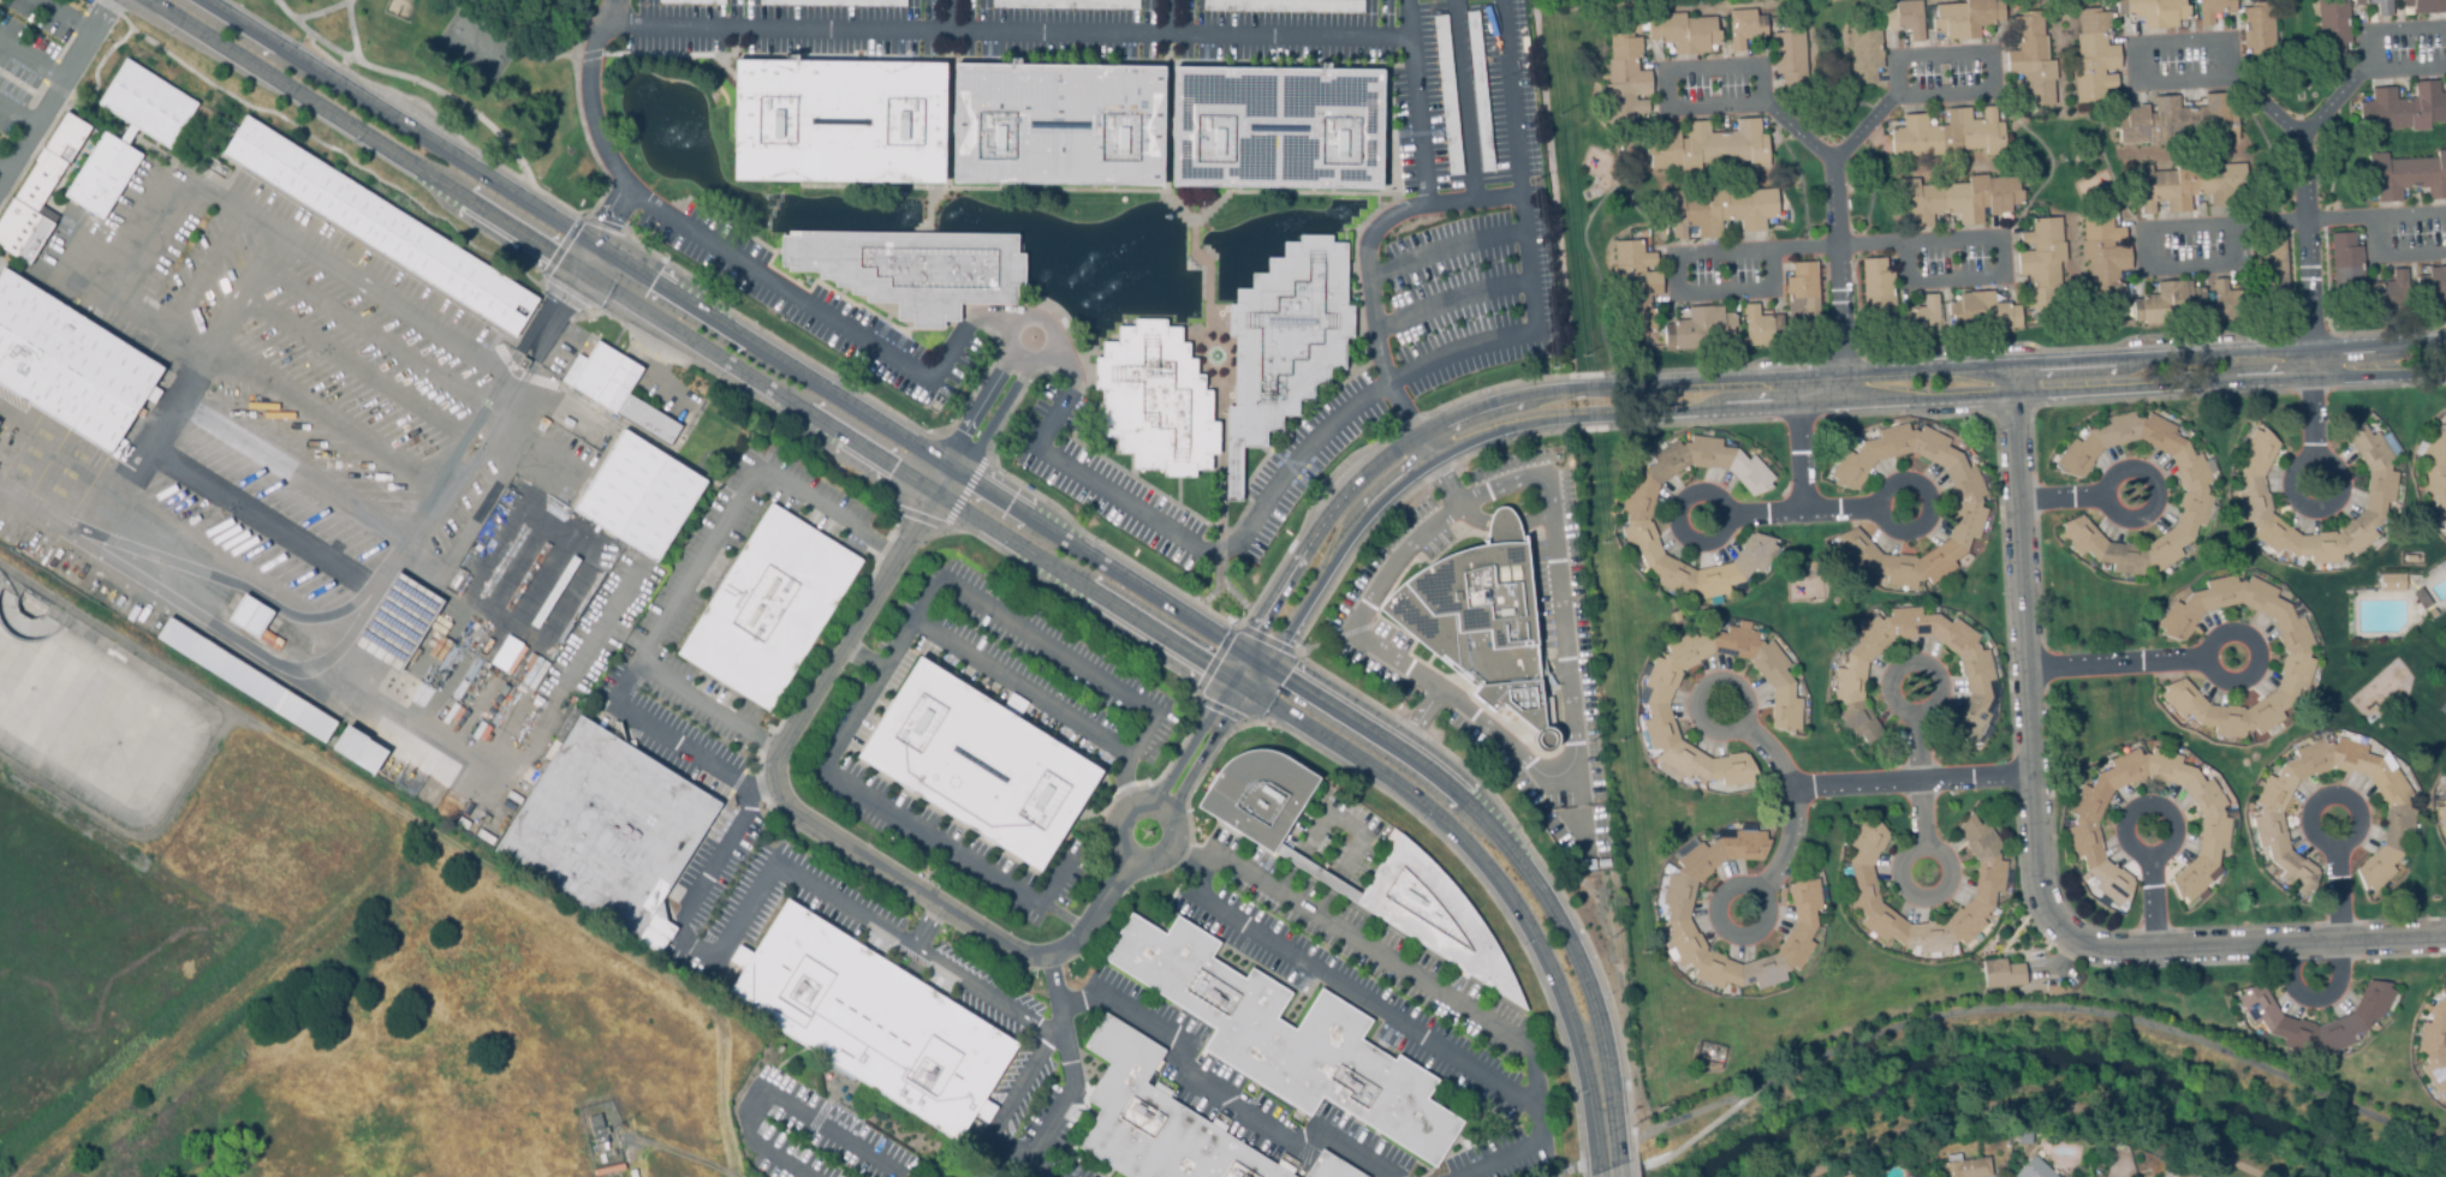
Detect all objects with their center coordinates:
building: (2377, 6)
building: (2426, 6)
park: (400, 8)
building: (2214, 10)
road: (320, 12)
building: (2155, 12)
road: (947, 14)
road: (61, 18)
building: (1906, 19)
building: (1966, 19)
building: (1745, 29)
building: (2332, 29)
road: (1005, 30)
building: (2258, 30)
road: (2386, 30)
road: (352, 32)
building: (1684, 34)
park: (476, 44)
building: (1864, 53)
building: (1791, 58)
building: (2094, 58)
building: (2030, 61)
road: (31, 62)
road: (2405, 67)
park: (474, 73)
building: (1625, 84)
road: (56, 90)
building: (1477, 90)
road: (1941, 92)
road: (445, 94)
road: (590, 96)
road: (1465, 102)
road: (2333, 103)
road: (1417, 104)
road: (1672, 107)
road: (578, 109)
building: (2403, 109)
power tower: (1559, 112)
road: (17, 118)
building: (835, 119)
fountain: (669, 123)
building: (1054, 123)
building: (2179, 123)
road: (2285, 123)
building: (1273, 127)
building: (125, 133)
building: (1948, 136)
building: (1709, 148)
road: (2, 172)
building: (2408, 177)
power tower: (1534, 183)
building: (2188, 186)
building: (37, 192)
building: (1958, 201)
building: (1718, 211)
road: (2295, 221)
building: (379, 226)
road: (1376, 232)
road: (141, 244)
road: (1755, 250)
road: (1447, 255)
building: (2106, 258)
building: (2346, 263)
building: (2042, 264)
building: (2272, 267)
building: (912, 269)
road: (200, 275)
road: (1956, 280)
building: (1635, 286)
building: (2432, 287)
building: (1879, 288)
building: (1803, 292)
building: (2392, 293)
road: (794, 299)
building: (2168, 303)
building: (2231, 303)
road: (1453, 306)
building: (1983, 315)
building: (1921, 318)
road: (1841, 322)
road: (1006, 324)
building: (1761, 328)
building: (1700, 329)
building: (1281, 340)
road: (379, 343)
power tower: (1581, 353)
fountain: (1216, 358)
road: (654, 364)
building: (67, 365)
road: (364, 368)
power tower: (1552, 368)
road: (1780, 378)
building: (615, 389)
road: (186, 396)
building: (1151, 399)
road: (1795, 402)
road: (341, 404)
road: (1353, 408)
road: (1400, 408)
road: (983, 422)
road: (1797, 444)
road: (2301, 459)
building: (2434, 471)
road: (292, 482)
road: (2106, 484)
building: (2195, 494)
building: (637, 495)
building: (2381, 495)
road: (1879, 496)
road: (744, 497)
road: (2060, 498)
road: (984, 504)
road: (1725, 507)
building: (1969, 507)
road: (1802, 510)
building: (1638, 520)
road: (264, 525)
building: (2445, 532)
power tower: (1600, 542)
power tower: (1570, 555)
building: (2410, 558)
building: (2392, 581)
road: (228, 591)
building: (2422, 598)
building: (767, 607)
road: (1369, 607)
building: (2433, 614)
building: (248, 615)
building: (1481, 620)
building: (395, 622)
road: (358, 626)
parking lot: (1492, 637)
building: (506, 655)
building: (2296, 656)
road: (2115, 663)
road: (2209, 667)
traffic signals: (1252, 669)
building: (244, 679)
building: (1980, 681)
road: (615, 701)
building: (1014, 703)
road: (1136, 705)
building: (1785, 710)
road: (1905, 710)
road: (1566, 716)
road: (1734, 727)
power tower: (1618, 739)
power tower: (1587, 742)
building: (357, 749)
building: (976, 764)
road: (513, 770)
road: (1917, 778)
road: (1909, 779)
road: (1141, 797)
road: (1789, 801)
road: (886, 809)
building: (2442, 809)
building: (2268, 824)
building: (2215, 826)
road: (2311, 826)
building: (605, 828)
road: (2036, 846)
road: (1929, 847)
road: (2138, 853)
building: (1406, 876)
road: (906, 883)
parking lot: (1016, 884)
building: (1988, 884)
road: (1746, 885)
road: (2154, 904)
building: (1678, 913)
road: (859, 916)
road: (928, 927)
power tower: (1609, 933)
power tower: (1641, 949)
road: (1373, 954)
road: (2341, 961)
building: (2001, 975)
road: (1365, 1002)
road: (2107, 1017)
building: (870, 1020)
building: (2273, 1021)
building: (1285, 1036)
building: (2435, 1044)
road: (166, 1053)
road: (1038, 1058)
building: (1701, 1062)
building: (1714, 1067)
road: (772, 1091)
road: (1221, 1095)
road: (2035, 1103)
building: (983, 1110)
power tower: (1660, 1112)
road: (1684, 1115)
building: (1154, 1119)
power tower: (1630, 1121)
building: (599, 1135)
road: (1690, 1140)
road: (674, 1157)
road: (1579, 1159)
road: (1613, 1159)
road: (1041, 1163)
building: (1329, 1167)
building: (1966, 1169)
building: (2036, 1170)
road: (1399, 1176)
building: (1847, 1176)

